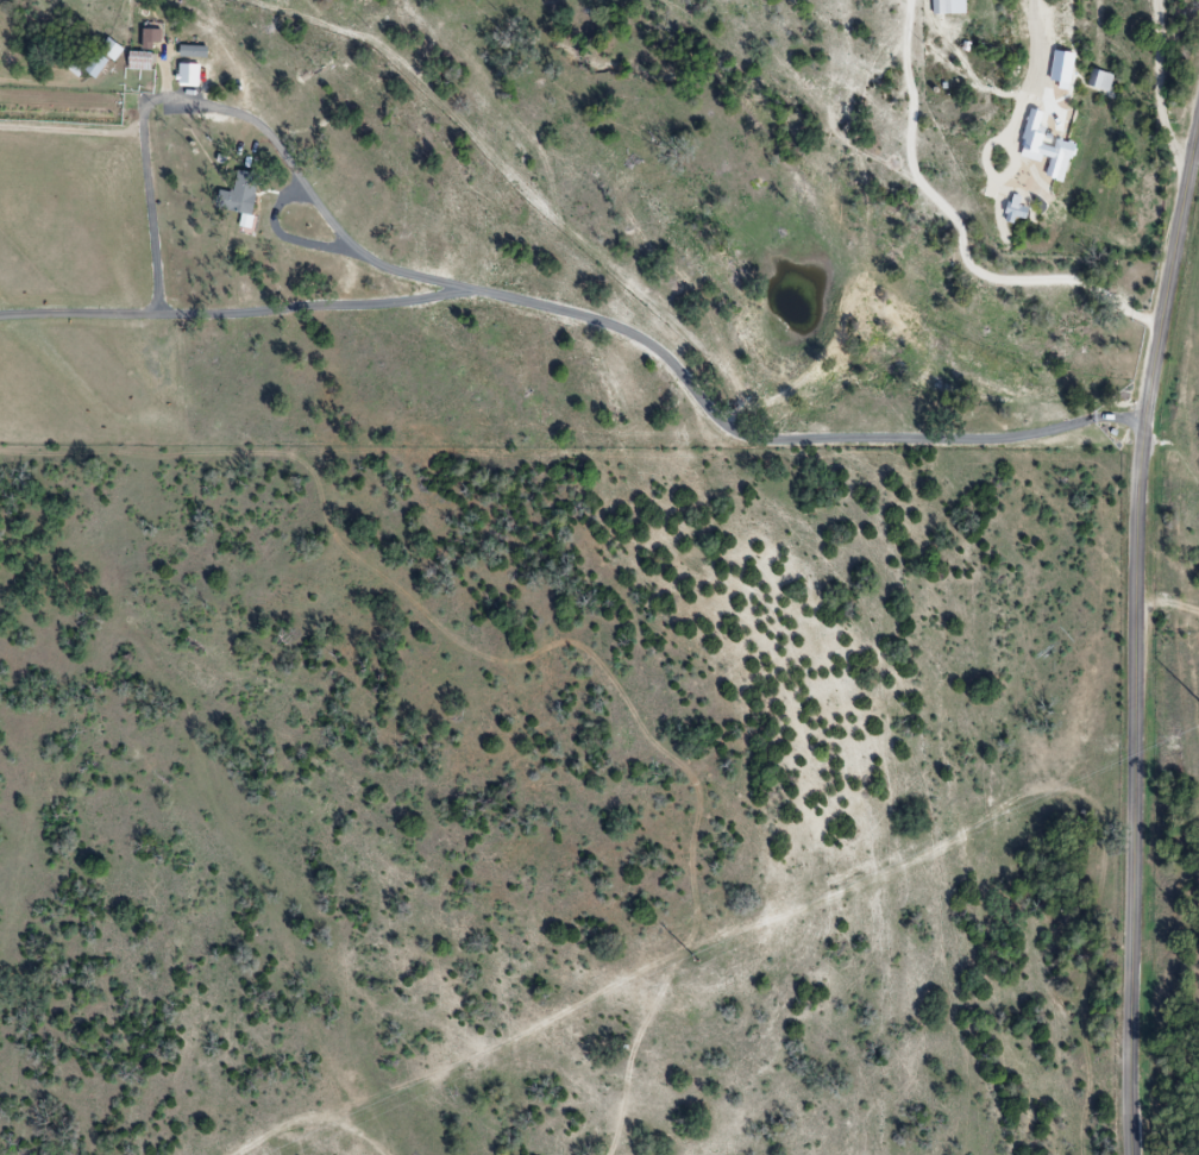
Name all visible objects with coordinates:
building: (943, 7)
road: (1037, 39)
building: (197, 51)
building: (106, 55)
building: (144, 59)
building: (197, 74)
building: (1106, 79)
road: (1166, 83)
building: (1066, 156)
road: (319, 193)
building: (249, 203)
building: (1022, 212)
road: (962, 227)
road: (594, 314)
railway: (1157, 391)
road: (1131, 628)
power tower: (702, 961)

